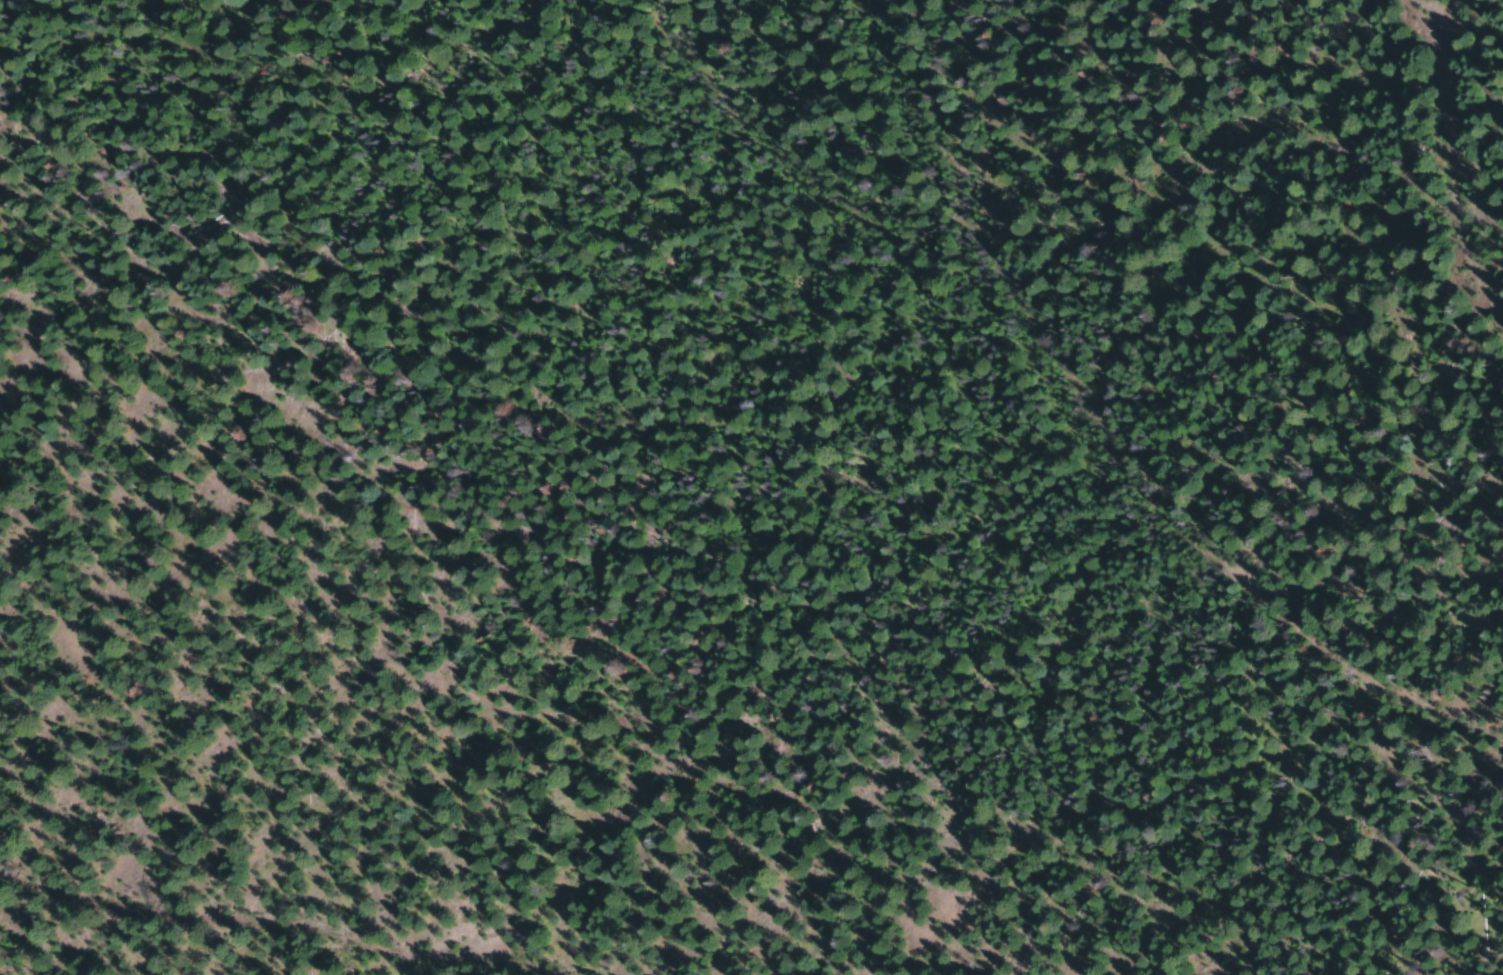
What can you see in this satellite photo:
road: (888, 122)
road: (1365, 226)
road: (1027, 402)
road: (171, 931)

